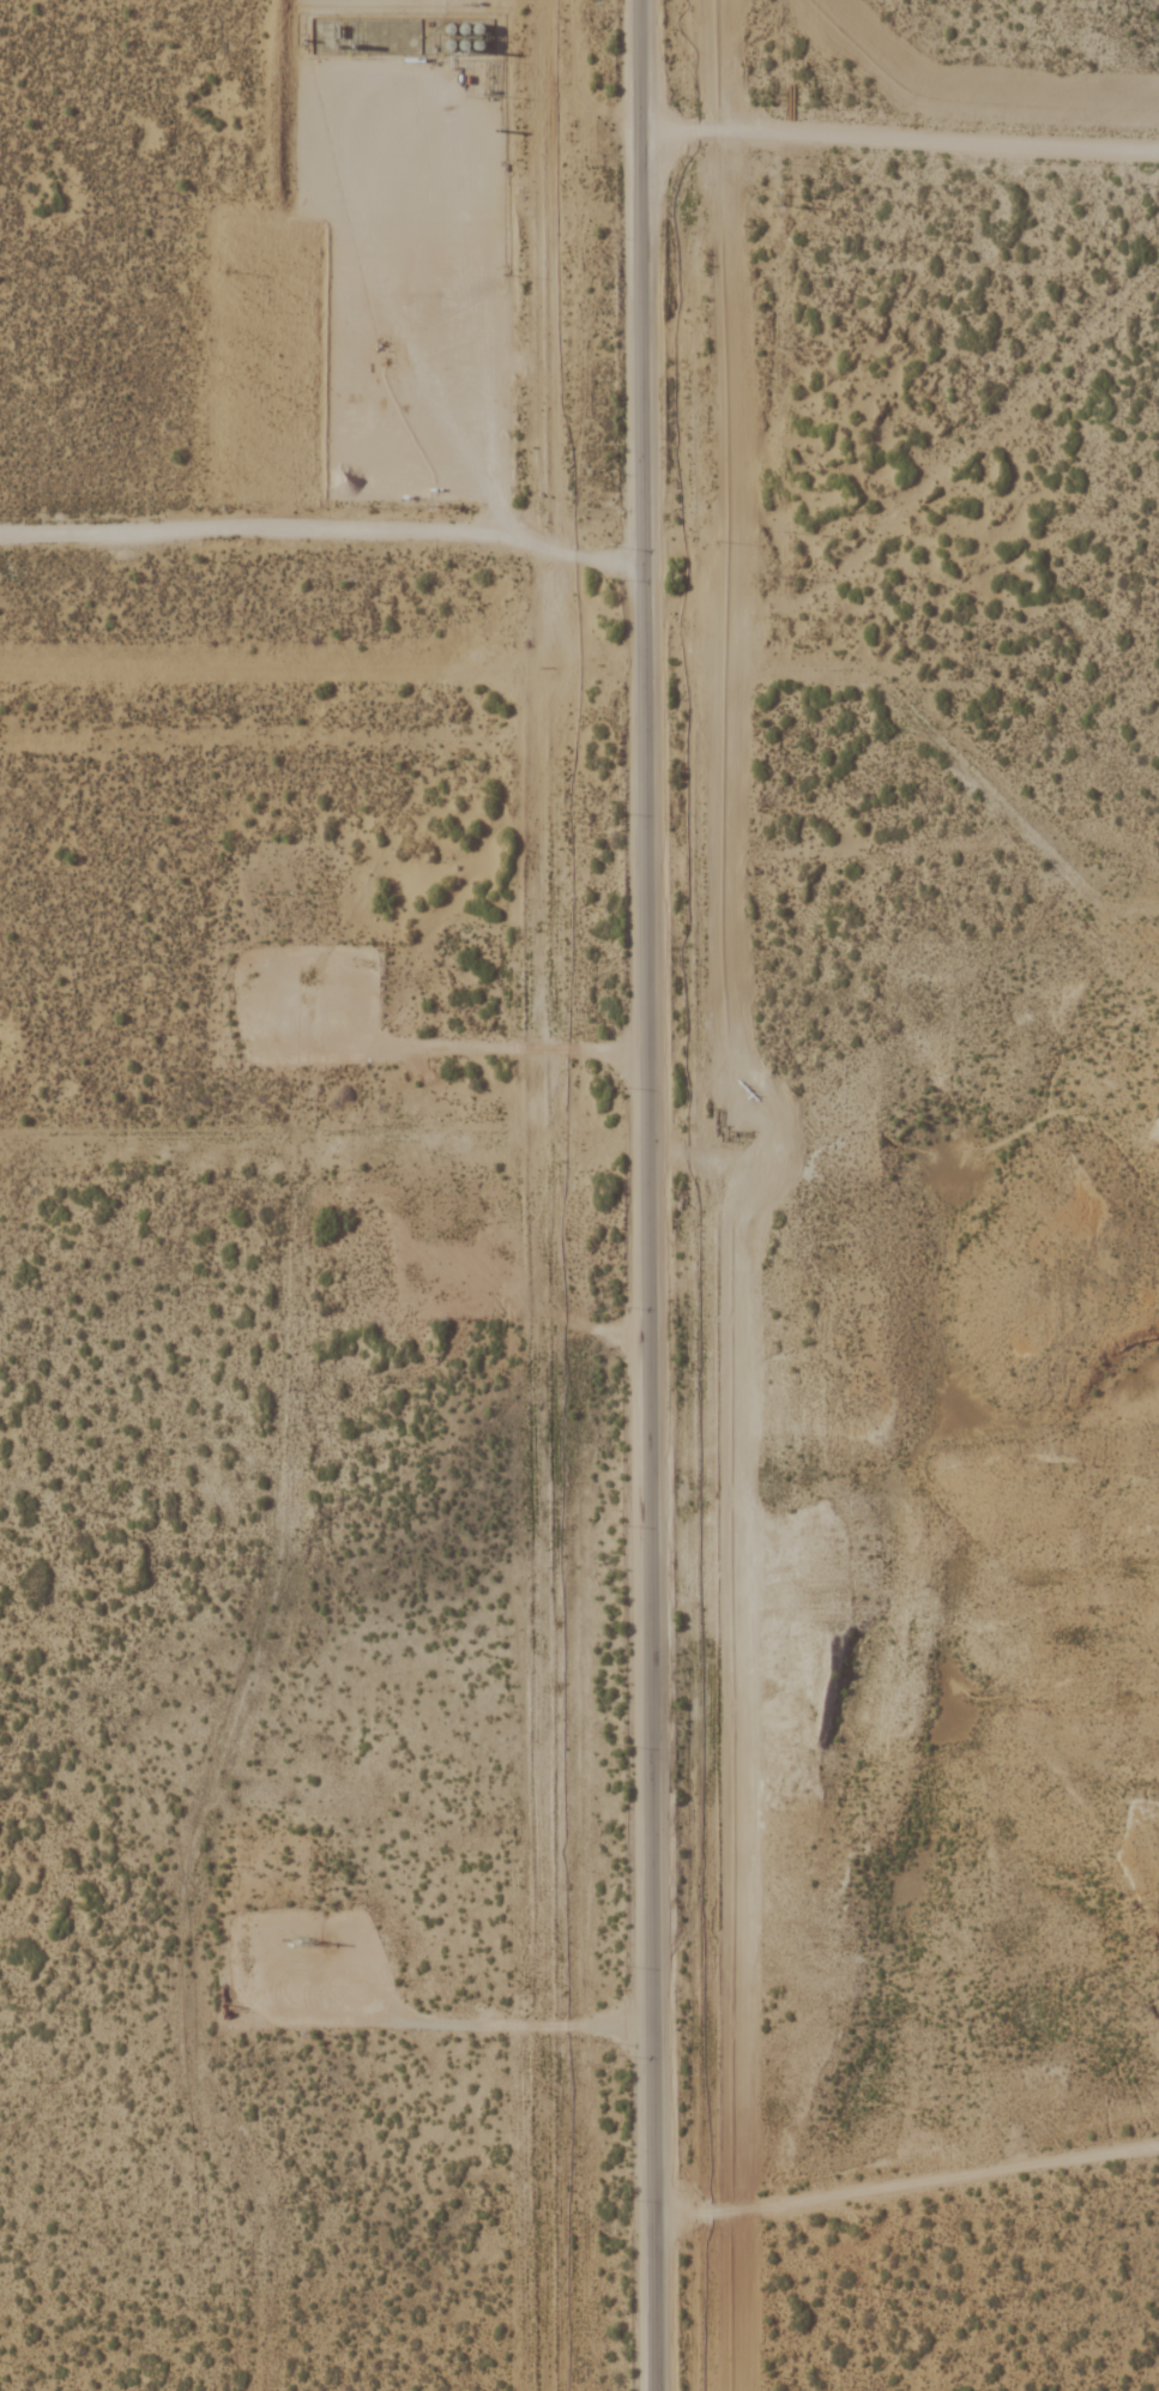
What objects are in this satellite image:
road: (900, 124)
petroleum well: (387, 362)
road: (324, 537)
road: (507, 1043)
road: (784, 1170)
road: (654, 1194)
petroleum well: (303, 1938)
road: (453, 2007)
road: (910, 2185)

